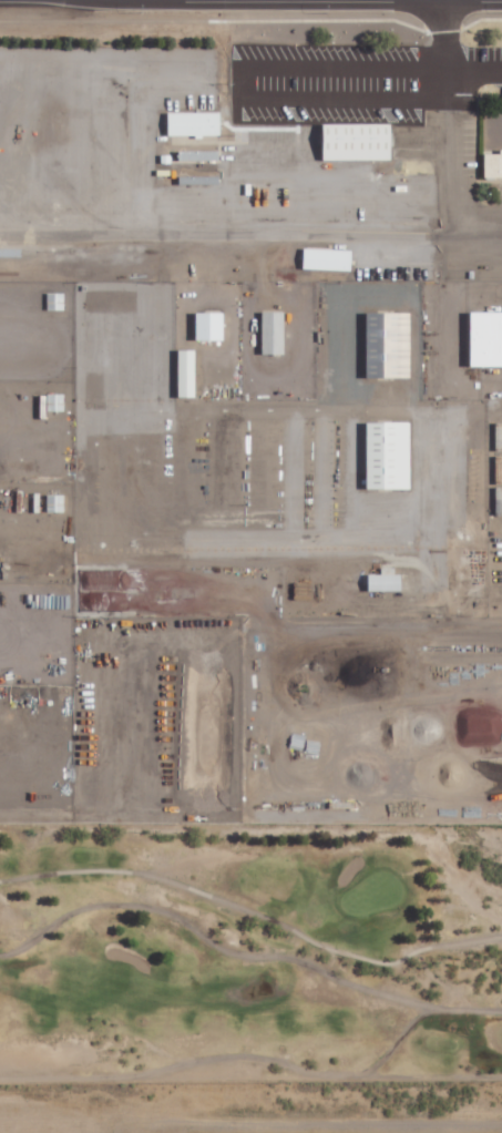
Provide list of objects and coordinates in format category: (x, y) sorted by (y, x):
building: (195, 123)
building: (360, 141)
building: (199, 154)
building: (493, 163)
building: (329, 258)
building: (57, 300)
building: (211, 325)
building: (274, 331)
building: (488, 338)
building: (389, 344)
building: (188, 372)
building: (54, 401)
building: (389, 455)
building: (57, 503)
building: (386, 582)
park: (252, 951)

